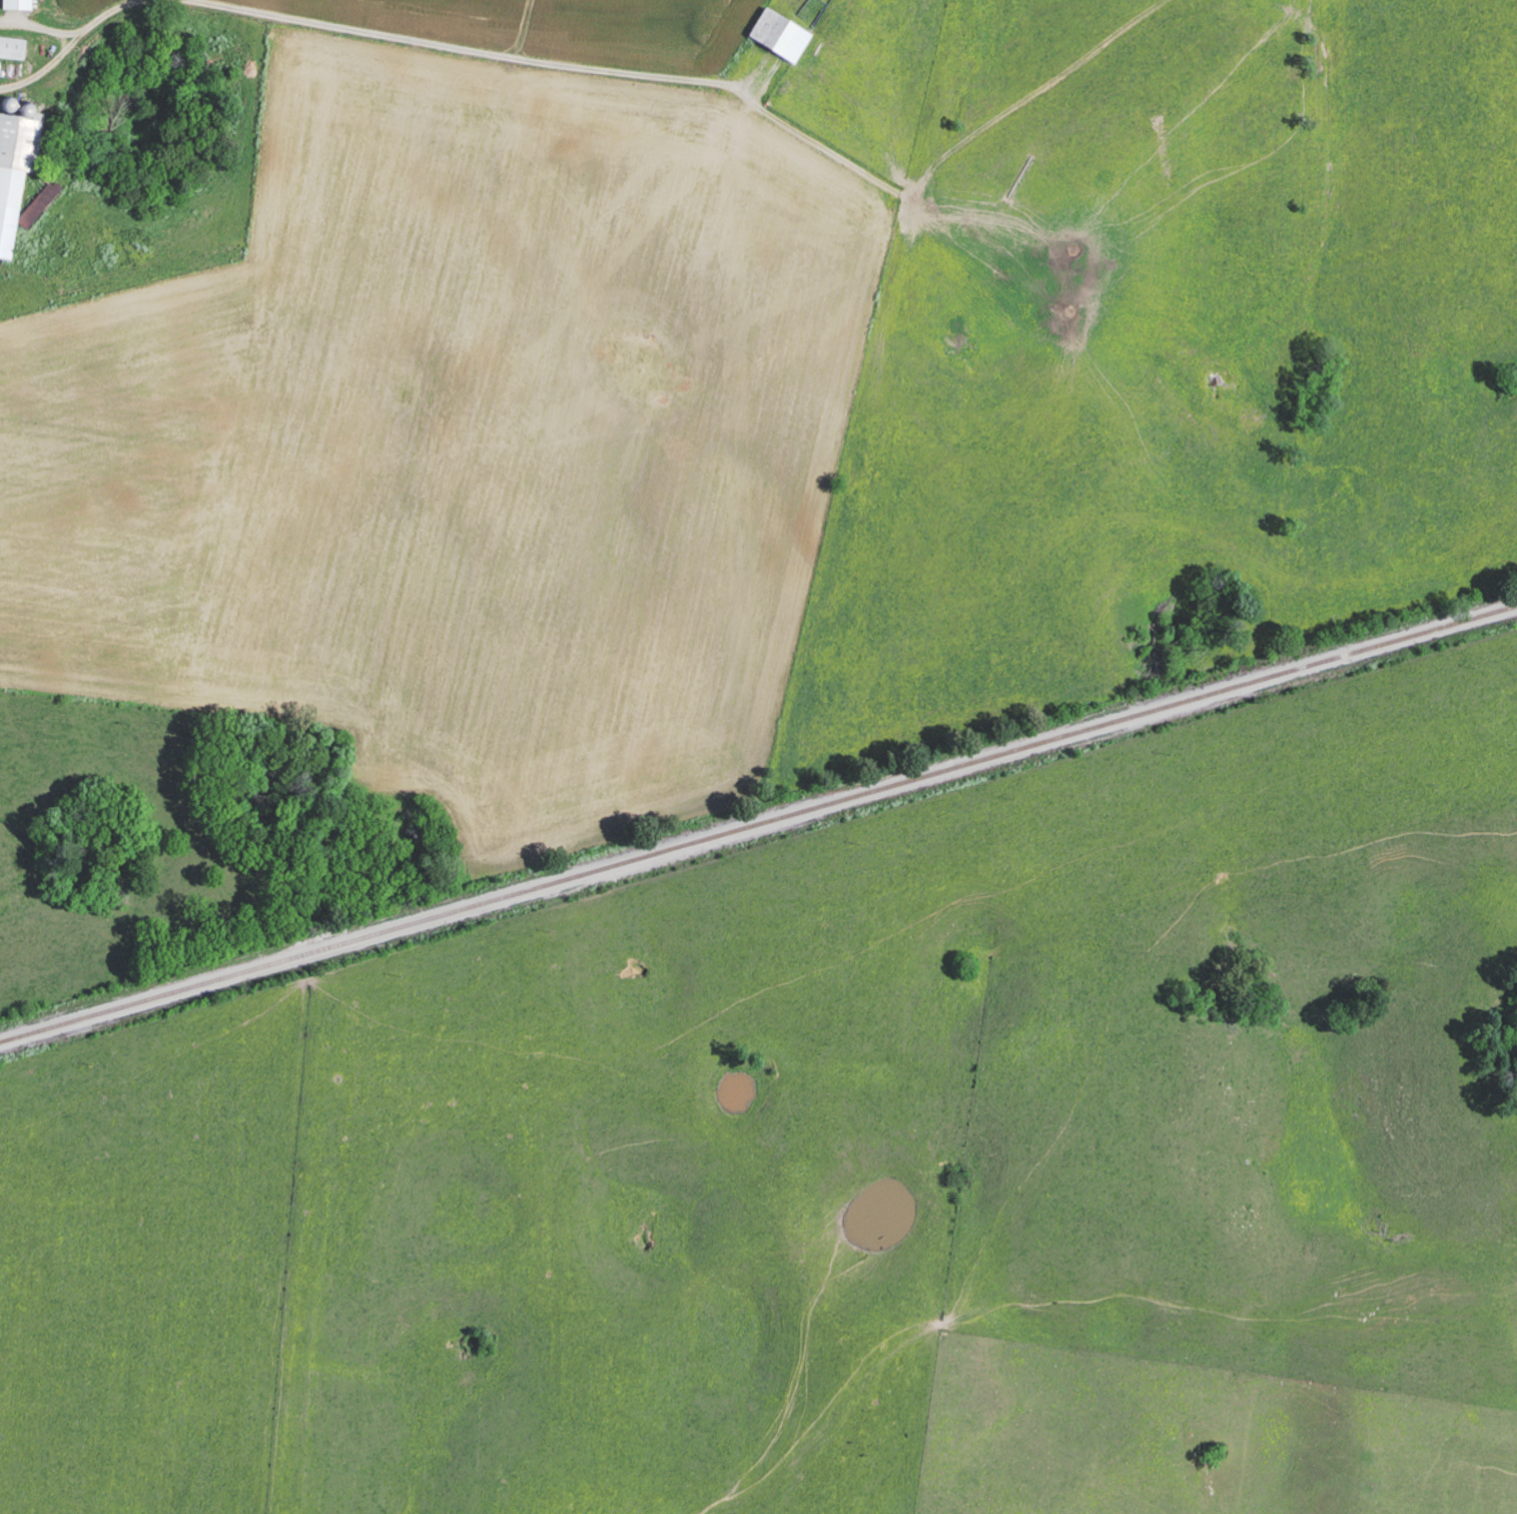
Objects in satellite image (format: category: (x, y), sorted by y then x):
building: (24, 3)
building: (774, 36)
building: (17, 173)
railway: (758, 819)

